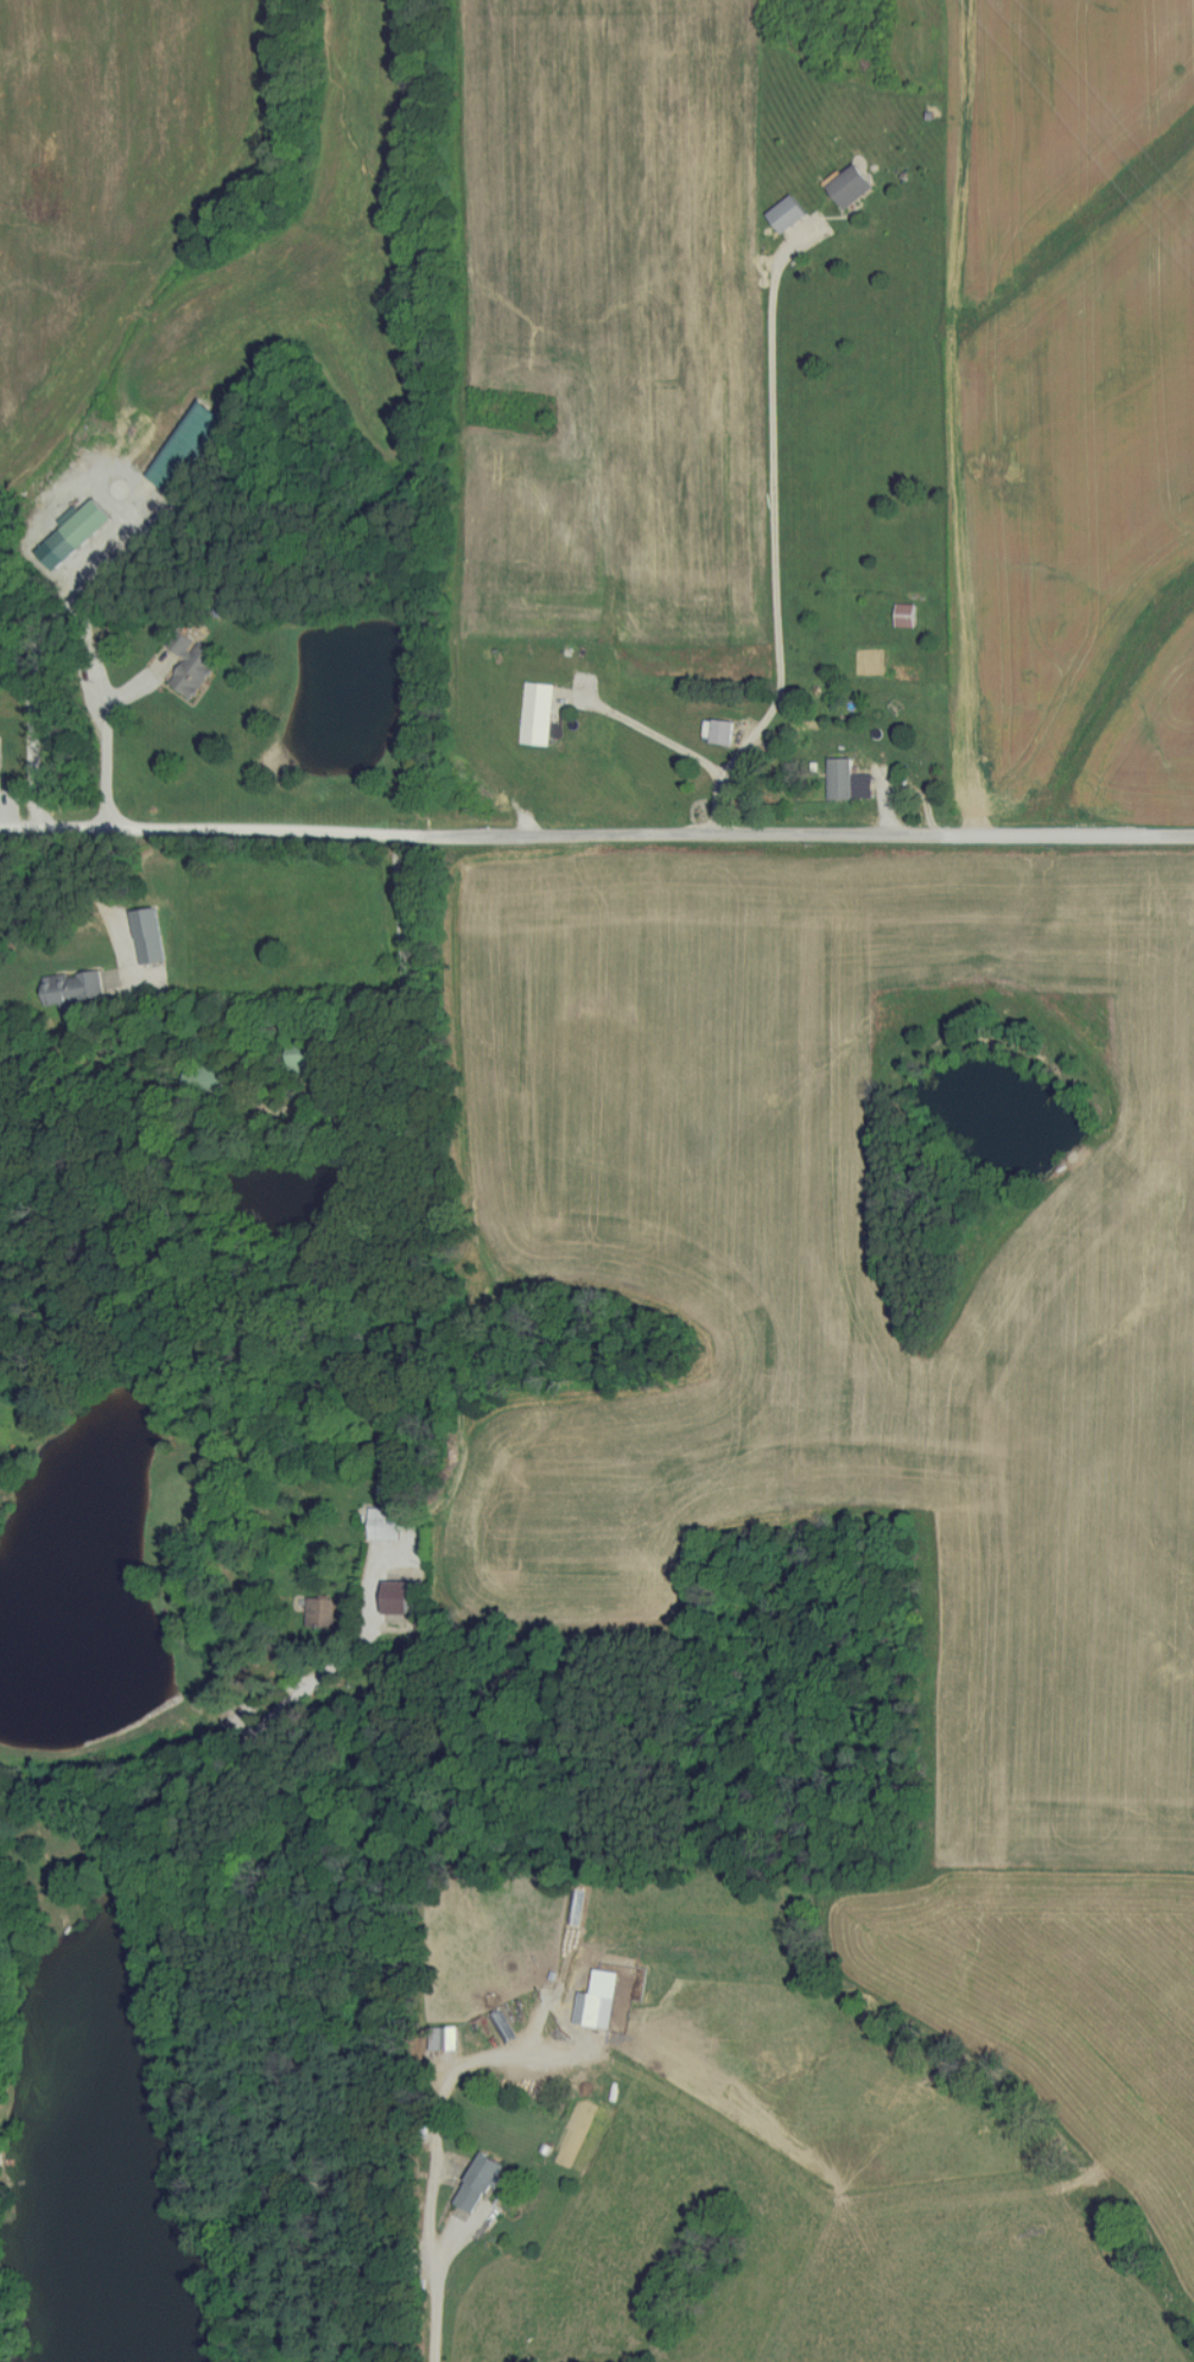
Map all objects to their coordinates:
building: (851, 184)
building: (787, 213)
building: (74, 533)
road: (771, 544)
building: (906, 615)
building: (192, 666)
road: (106, 711)
building: (536, 713)
building: (720, 732)
road: (655, 737)
building: (847, 780)
road: (596, 831)
building: (151, 949)
building: (71, 988)
building: (303, 1063)
building: (382, 1524)
building: (320, 1611)
building: (598, 1999)
building: (443, 2037)
road: (433, 2143)
building: (478, 2181)

